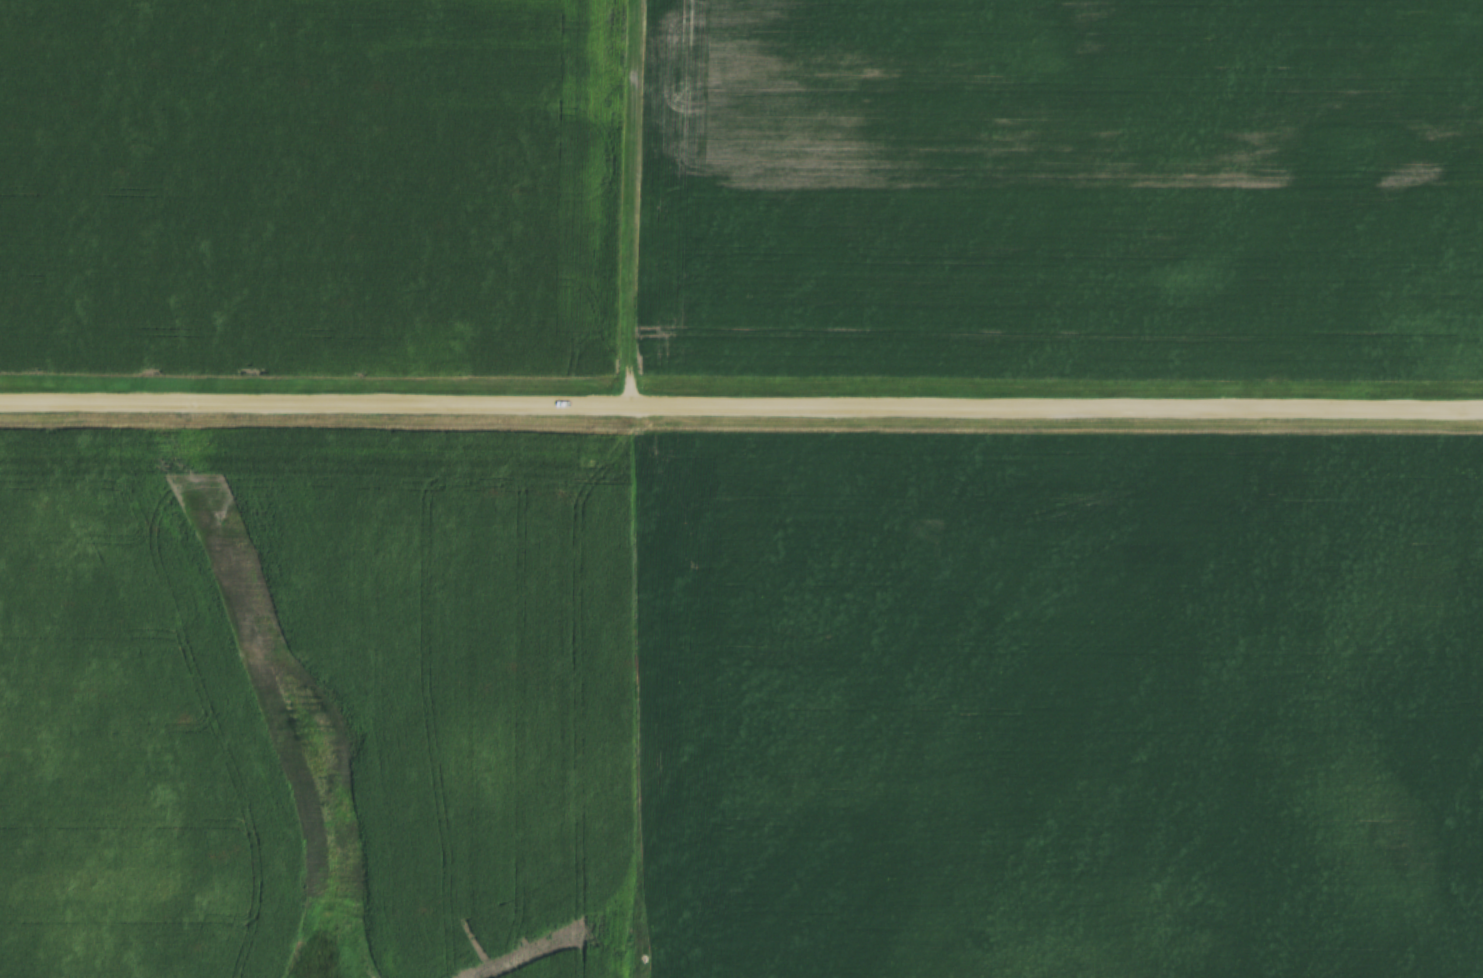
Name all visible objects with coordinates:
road: (741, 403)

